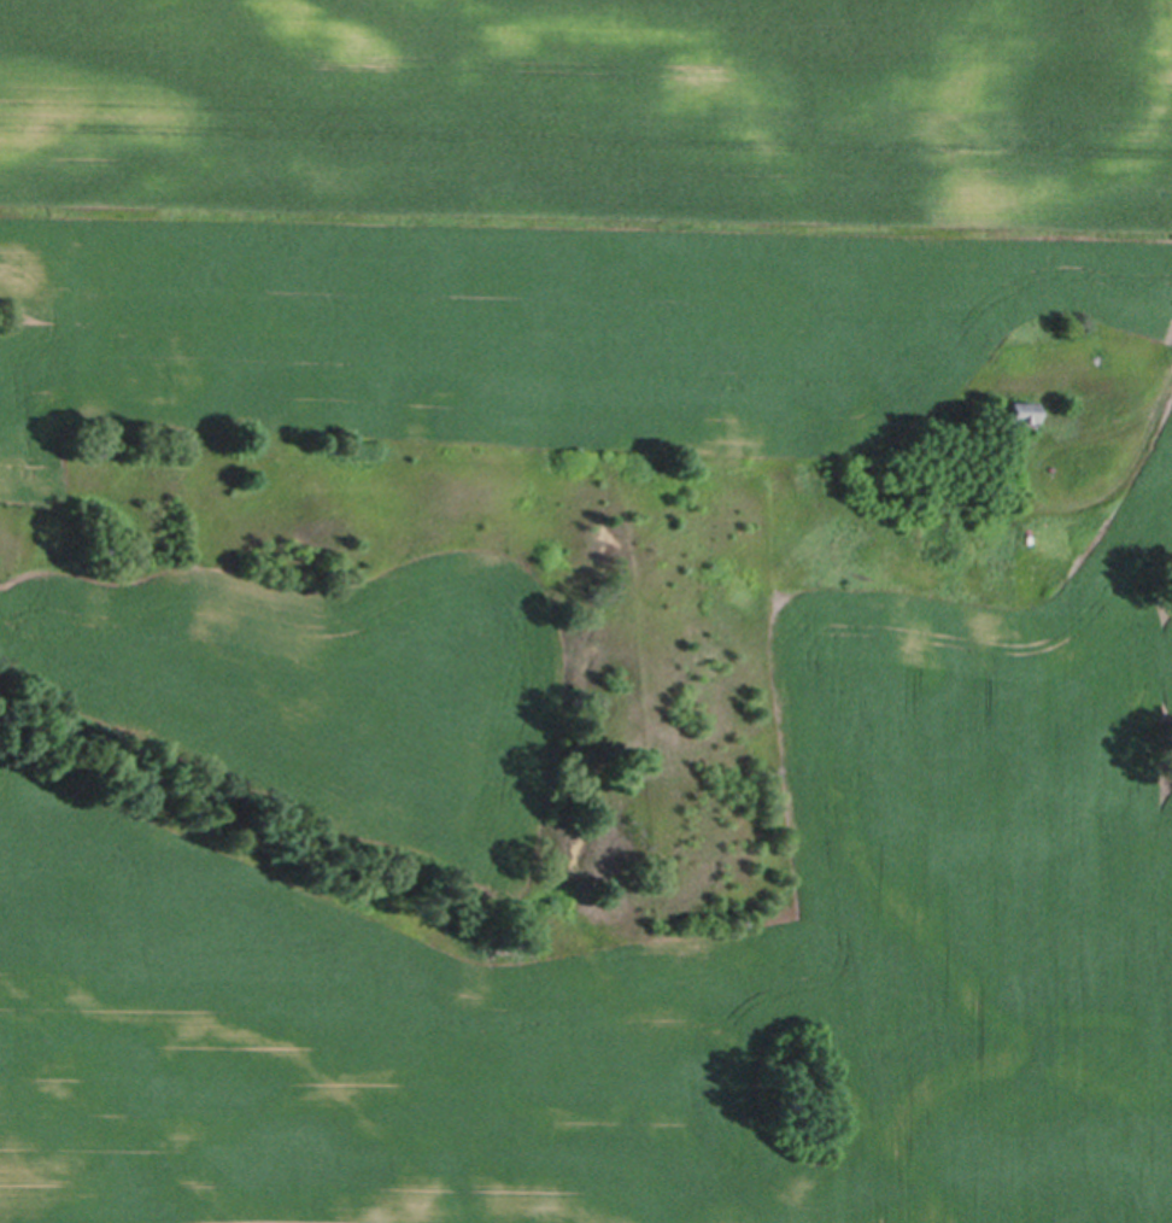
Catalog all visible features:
building: (1018, 410)
building: (997, 476)
building: (1016, 496)

